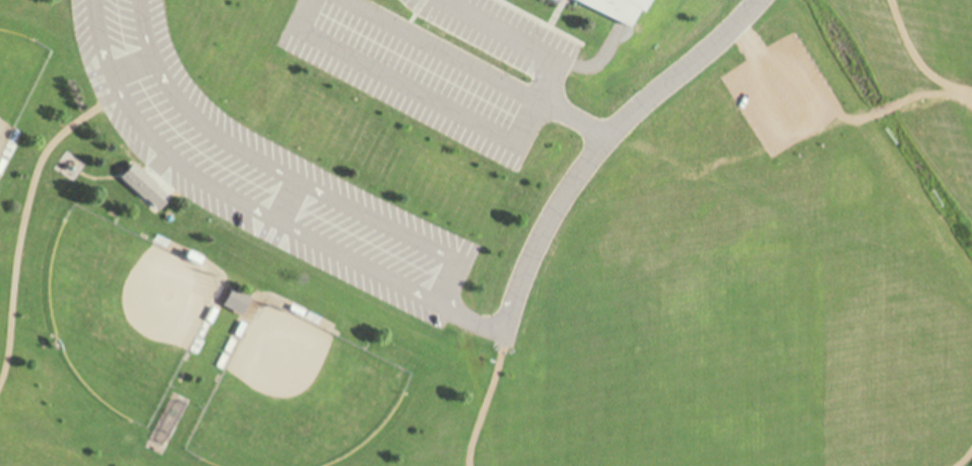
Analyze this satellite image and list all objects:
building: (618, 8)
road: (522, 41)
road: (915, 61)
parking lot: (441, 67)
road: (475, 67)
road: (598, 143)
parking lot: (259, 169)
building: (139, 182)
road: (260, 207)
park: (486, 233)
road: (23, 238)
road: (488, 401)
road: (965, 460)

